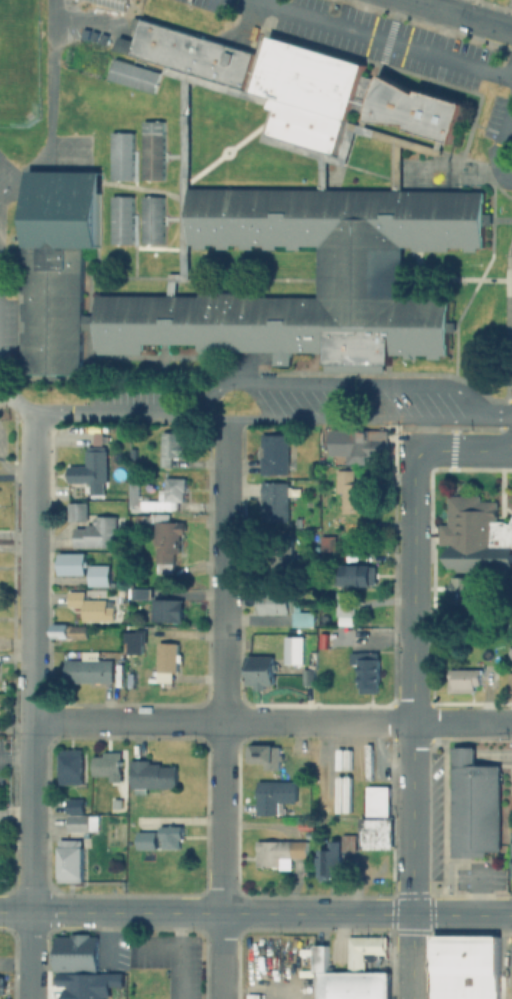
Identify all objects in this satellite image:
road: (269, 2)
building: (112, 3)
road: (458, 16)
parking lot: (81, 20)
road: (383, 38)
parking lot: (380, 46)
building: (186, 51)
park: (18, 63)
road: (149, 66)
building: (134, 77)
road: (184, 87)
building: (309, 94)
road: (48, 110)
building: (417, 111)
building: (73, 117)
road: (367, 132)
road: (500, 138)
building: (151, 151)
road: (224, 151)
road: (445, 155)
building: (121, 157)
road: (367, 172)
road: (142, 189)
building: (122, 221)
building: (151, 221)
road: (162, 247)
building: (358, 271)
road: (478, 277)
road: (112, 278)
road: (439, 278)
road: (249, 279)
parking lot: (8, 313)
road: (152, 357)
road: (335, 384)
parking lot: (133, 394)
parking lot: (350, 402)
road: (16, 404)
road: (110, 412)
road: (333, 418)
road: (496, 418)
building: (364, 444)
building: (171, 448)
building: (131, 454)
building: (273, 454)
building: (89, 468)
road: (16, 475)
building: (353, 494)
building: (156, 497)
building: (274, 503)
building: (74, 513)
building: (297, 524)
building: (96, 534)
building: (475, 537)
building: (165, 540)
building: (71, 566)
building: (280, 566)
building: (97, 576)
building: (348, 576)
building: (462, 591)
building: (140, 595)
building: (345, 605)
building: (90, 607)
building: (282, 609)
building: (166, 612)
building: (477, 613)
building: (68, 633)
building: (323, 640)
building: (132, 642)
building: (293, 651)
building: (509, 654)
building: (166, 657)
building: (498, 667)
building: (90, 670)
building: (260, 670)
building: (366, 671)
building: (308, 677)
road: (412, 677)
building: (509, 678)
building: (463, 679)
road: (30, 704)
road: (222, 708)
road: (126, 720)
road: (317, 721)
road: (462, 723)
building: (265, 754)
road: (15, 758)
building: (69, 765)
building: (108, 765)
building: (151, 773)
building: (276, 795)
building: (377, 801)
building: (116, 803)
building: (75, 805)
building: (473, 806)
parking lot: (432, 817)
building: (81, 822)
building: (375, 832)
building: (170, 835)
building: (146, 839)
building: (348, 842)
building: (279, 851)
building: (511, 854)
building: (0, 855)
building: (70, 860)
building: (329, 861)
parking lot: (477, 879)
road: (479, 890)
road: (256, 912)
road: (107, 939)
road: (156, 950)
building: (364, 951)
building: (74, 953)
road: (180, 955)
road: (510, 957)
parking lot: (173, 958)
building: (465, 966)
parking lot: (279, 967)
building: (348, 980)
building: (0, 985)
building: (89, 986)
road: (278, 992)

